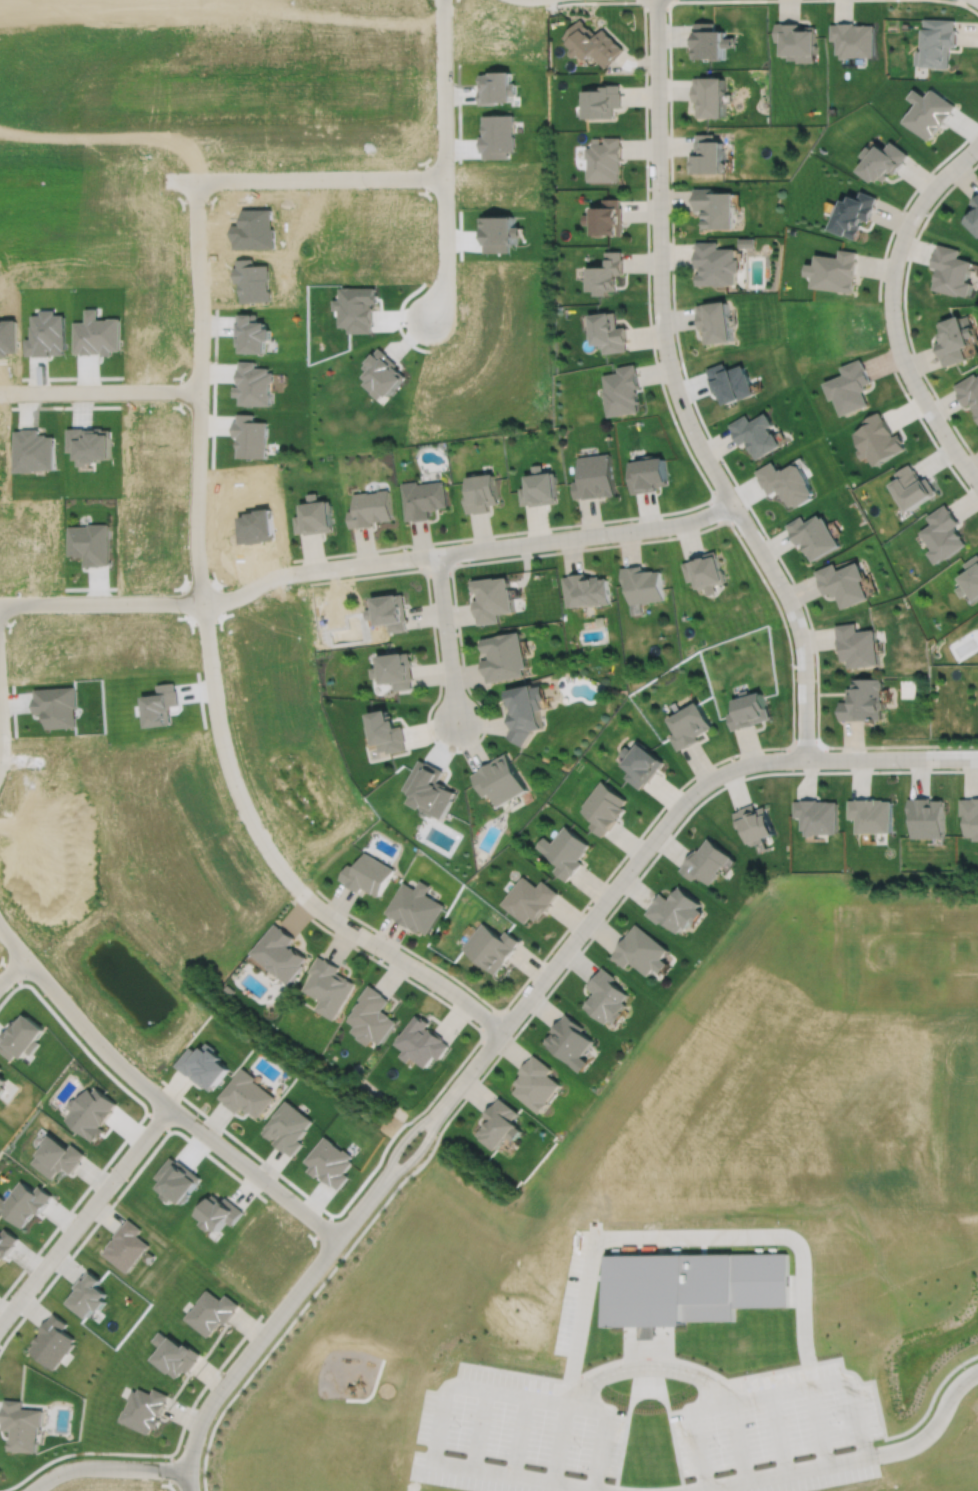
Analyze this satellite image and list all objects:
road: (960, 2)
road: (962, 4)
building: (854, 41)
building: (592, 43)
building: (709, 44)
building: (797, 44)
building: (938, 45)
building: (708, 95)
building: (601, 100)
building: (928, 112)
building: (706, 154)
building: (604, 159)
building: (882, 160)
road: (445, 162)
road: (322, 186)
building: (713, 207)
building: (853, 213)
building: (973, 216)
building: (606, 218)
building: (745, 242)
building: (714, 264)
building: (834, 271)
building: (950, 271)
building: (606, 274)
road: (904, 309)
road: (879, 311)
road: (892, 311)
building: (713, 322)
building: (607, 333)
building: (952, 341)
building: (256, 383)
building: (729, 383)
building: (849, 388)
building: (621, 391)
road: (101, 393)
road: (677, 393)
building: (968, 393)
road: (203, 394)
road: (698, 415)
road: (680, 435)
building: (754, 435)
building: (252, 436)
building: (881, 438)
building: (648, 475)
building: (595, 478)
building: (788, 480)
building: (915, 485)
building: (538, 489)
building: (481, 494)
building: (422, 500)
road: (720, 508)
building: (369, 510)
building: (312, 518)
building: (944, 533)
building: (815, 534)
road: (468, 550)
road: (746, 552)
road: (438, 567)
building: (706, 570)
building: (970, 577)
building: (845, 582)
building: (643, 583)
building: (586, 589)
building: (492, 597)
road: (103, 605)
building: (389, 610)
road: (446, 637)
building: (859, 644)
building: (504, 656)
building: (396, 669)
building: (863, 700)
building: (750, 710)
building: (526, 711)
building: (690, 724)
road: (1, 725)
building: (388, 731)
road: (804, 747)
building: (641, 764)
building: (501, 779)
building: (431, 789)
road: (688, 796)
building: (604, 807)
building: (872, 813)
building: (817, 814)
building: (970, 814)
building: (927, 815)
building: (754, 822)
building: (565, 852)
building: (705, 860)
road: (278, 867)
building: (366, 873)
building: (529, 898)
building: (414, 906)
building: (674, 908)
road: (12, 943)
building: (490, 946)
building: (641, 950)
building: (280, 953)
road: (12, 970)
building: (330, 986)
road: (434, 995)
building: (605, 996)
building: (373, 1016)
road: (491, 1023)
road: (521, 1026)
building: (21, 1038)
building: (570, 1041)
building: (422, 1042)
building: (203, 1065)
building: (1, 1068)
road: (469, 1072)
building: (2, 1083)
building: (536, 1083)
building: (246, 1094)
road: (173, 1108)
building: (91, 1112)
building: (499, 1124)
building: (288, 1127)
road: (401, 1142)
road: (416, 1154)
building: (57, 1157)
road: (101, 1168)
building: (24, 1203)
road: (359, 1211)
building: (219, 1213)
road: (84, 1214)
road: (686, 1234)
building: (6, 1243)
building: (126, 1246)
road: (57, 1272)
road: (596, 1277)
building: (690, 1288)
building: (87, 1295)
building: (211, 1313)
building: (52, 1343)
road: (647, 1348)
building: (174, 1356)
road: (245, 1356)
road: (648, 1367)
road: (762, 1373)
road: (526, 1395)
road: (770, 1395)
building: (144, 1410)
road: (669, 1419)
road: (627, 1420)
road: (819, 1425)
building: (21, 1427)
road: (481, 1429)
road: (779, 1433)
parking lot: (780, 1433)
parking lot: (516, 1434)
road: (519, 1436)
road: (164, 1454)
road: (850, 1460)
road: (107, 1467)
road: (514, 1476)

